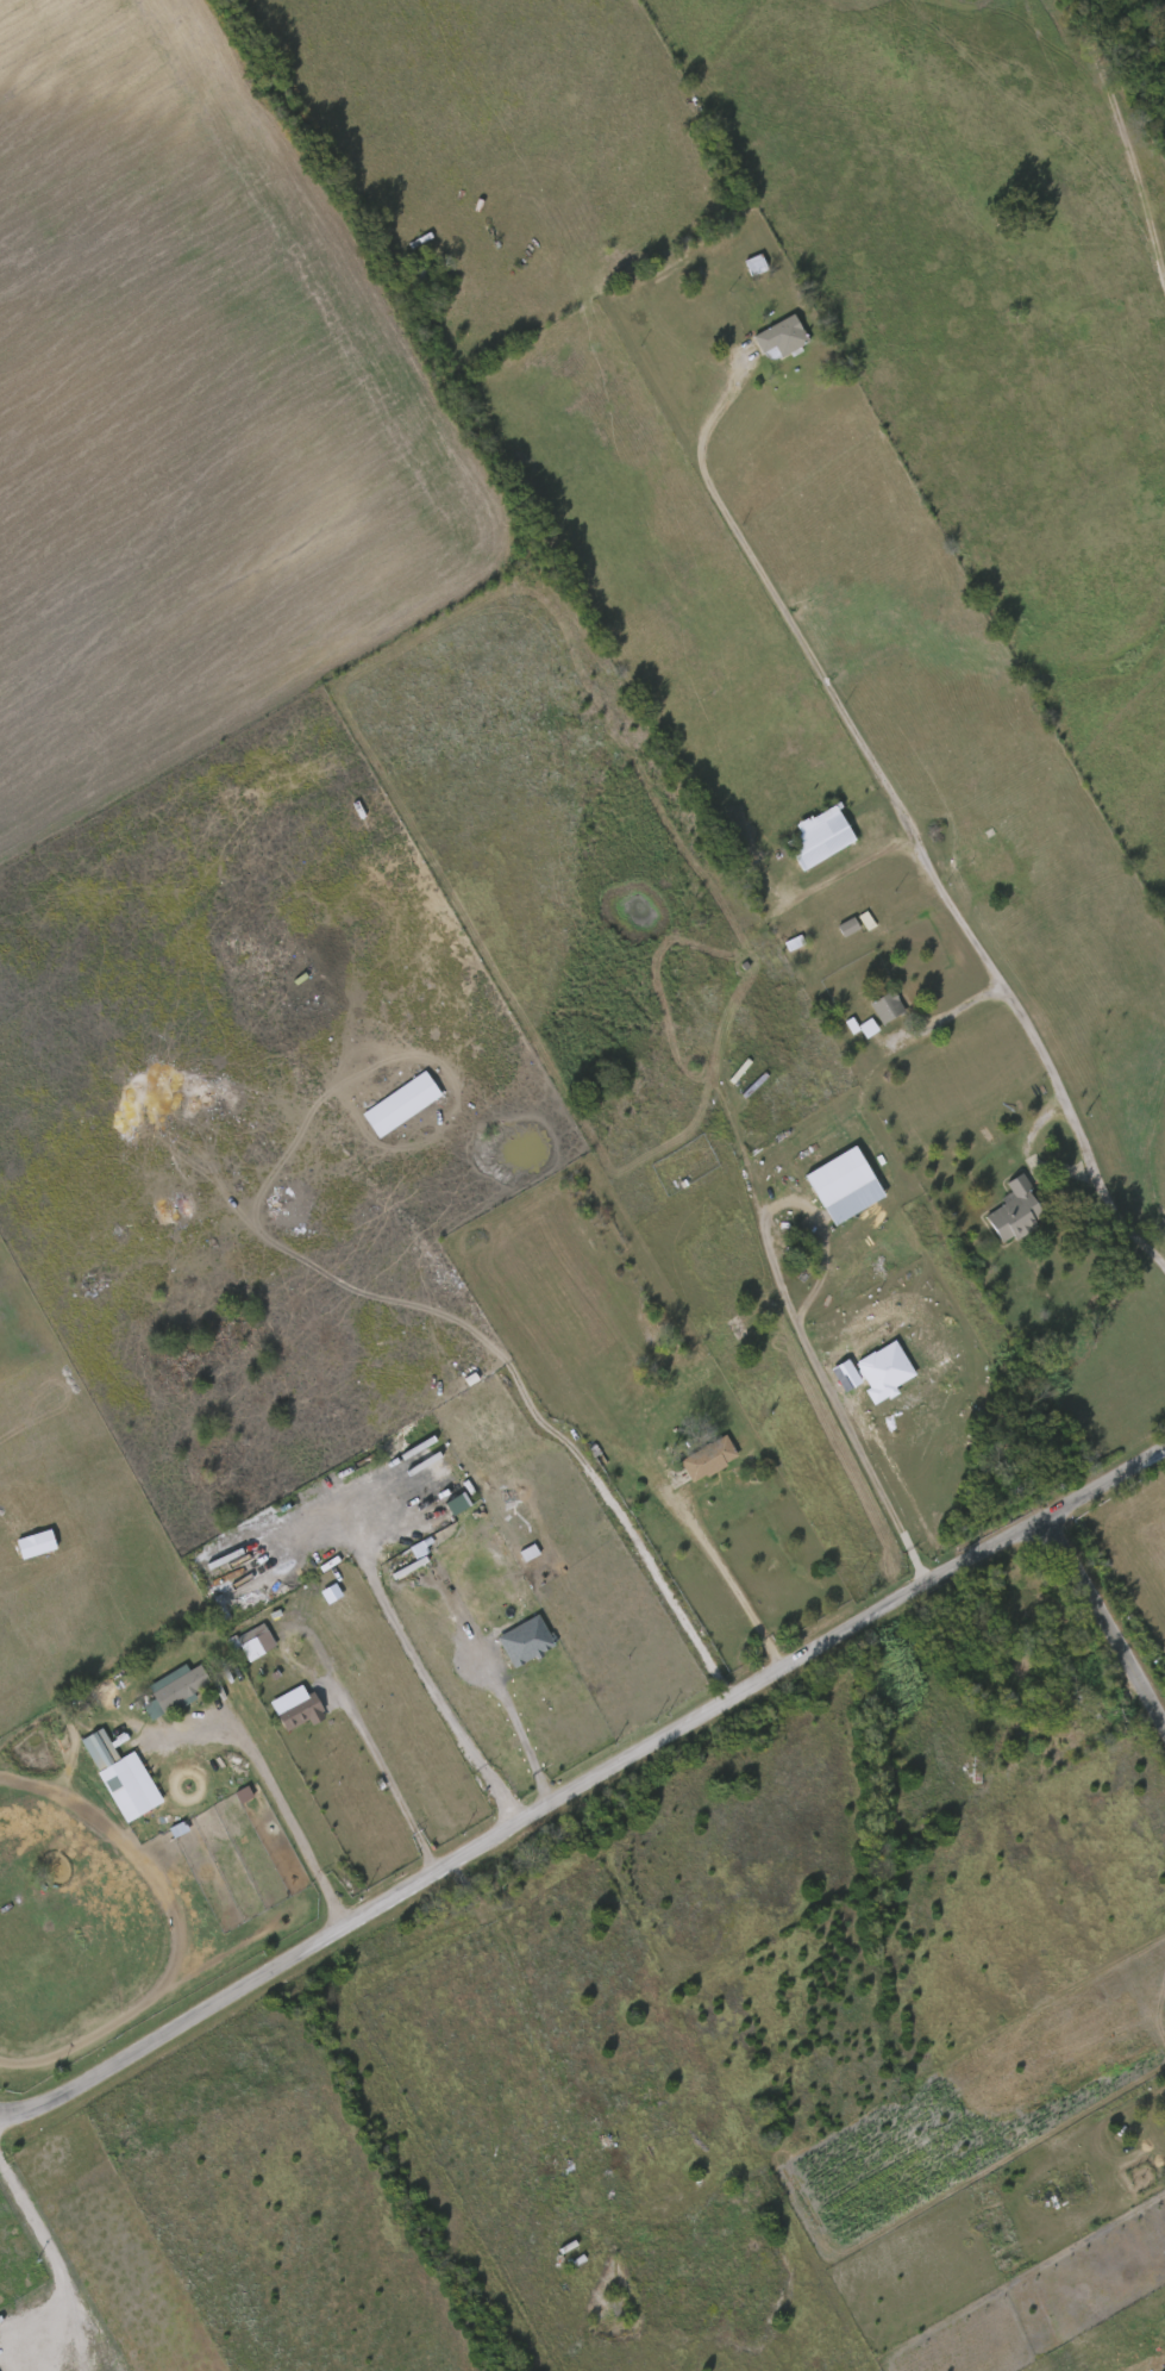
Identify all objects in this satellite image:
building: (626, 249)
building: (754, 264)
building: (779, 336)
road: (908, 817)
building: (816, 832)
building: (848, 925)
building: (885, 1006)
road: (947, 1013)
building: (868, 1029)
building: (401, 1105)
building: (843, 1185)
building: (1015, 1210)
road: (798, 1329)
building: (884, 1372)
road: (539, 1418)
building: (708, 1455)
building: (457, 1504)
building: (483, 1505)
building: (36, 1545)
road: (741, 1589)
road: (1107, 1623)
building: (526, 1641)
building: (252, 1642)
road: (416, 1662)
building: (175, 1686)
road: (494, 1689)
building: (1083, 1707)
building: (296, 1709)
building: (102, 1753)
road: (388, 1778)
road: (265, 1782)
road: (591, 1782)
road: (10, 2114)
road: (59, 2269)

